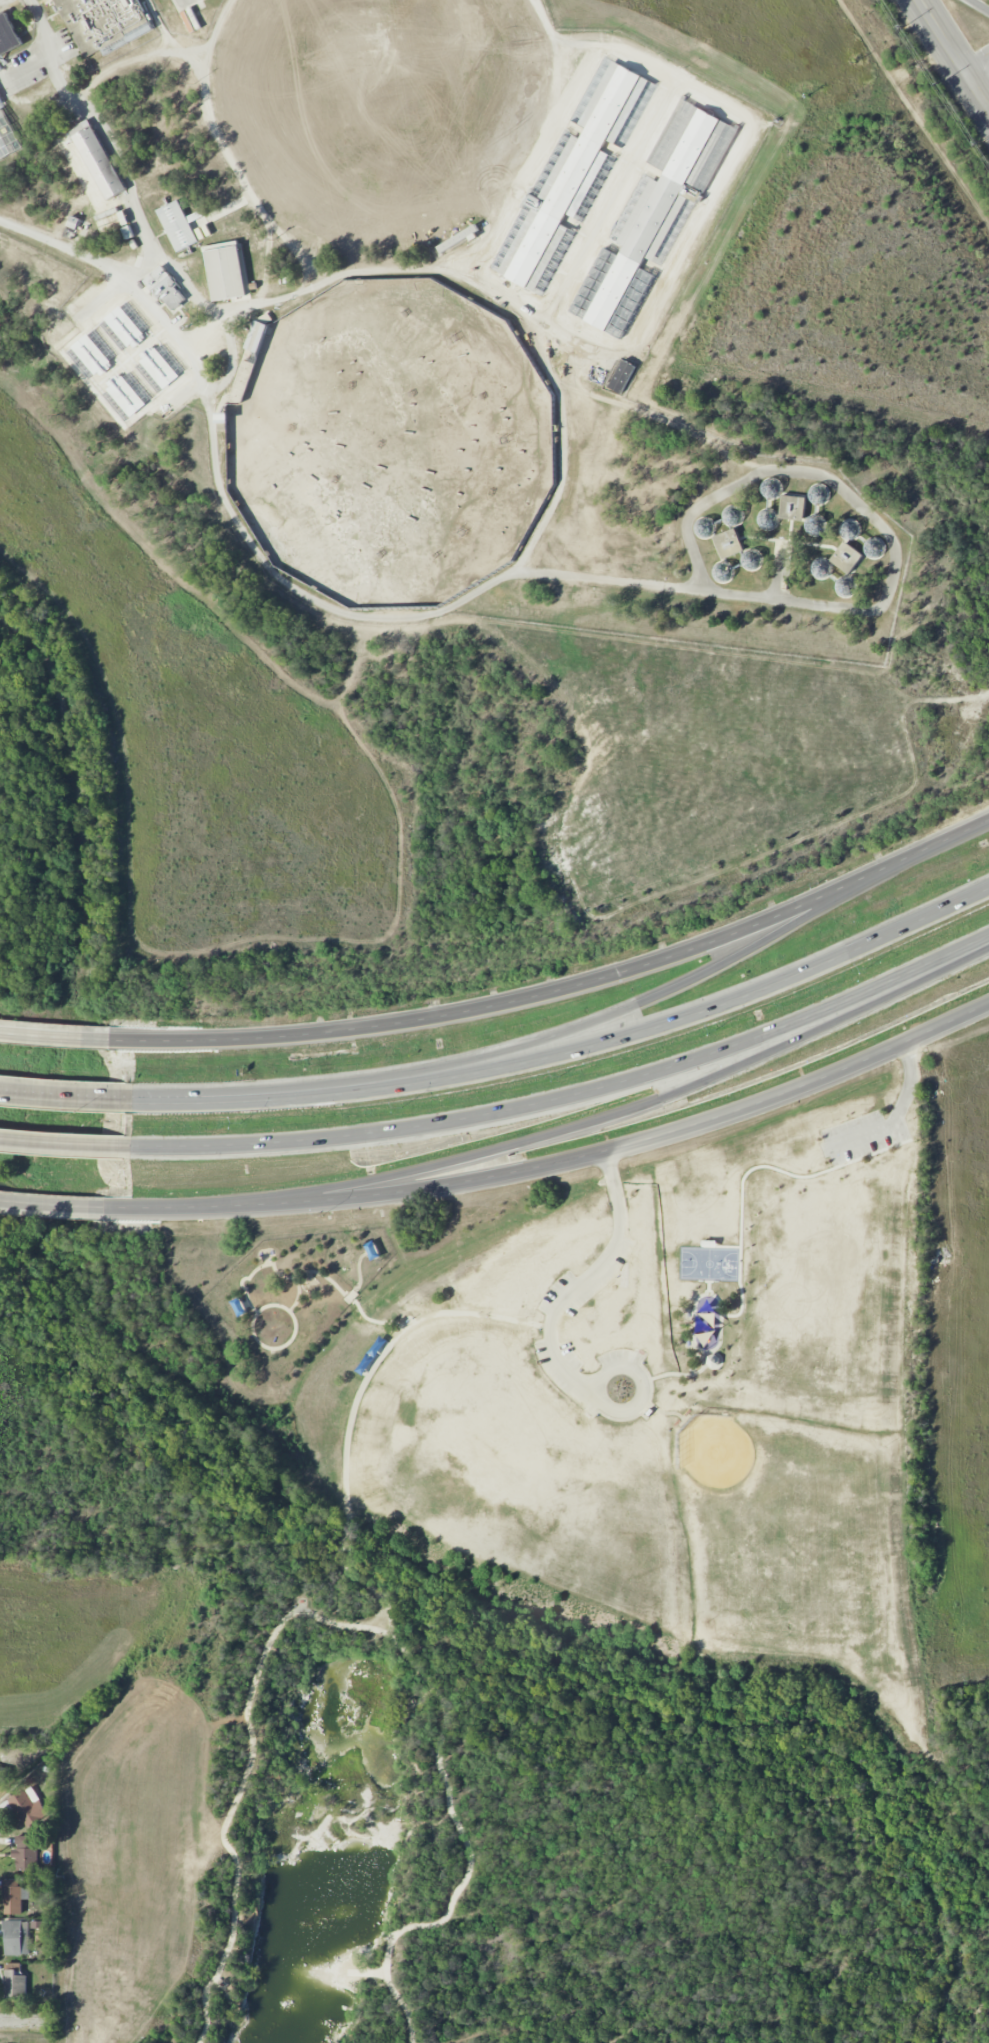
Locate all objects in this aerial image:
parking lot: (5, 2)
road: (182, 3)
road: (980, 5)
building: (105, 23)
building: (8, 36)
road: (54, 50)
road: (954, 55)
road: (135, 60)
road: (976, 62)
road: (59, 80)
building: (0, 97)
building: (9, 133)
road: (541, 147)
road: (740, 151)
road: (227, 154)
building: (99, 157)
road: (126, 174)
building: (571, 174)
road: (611, 199)
building: (652, 220)
building: (114, 221)
building: (179, 224)
building: (76, 226)
building: (458, 239)
road: (415, 268)
building: (227, 270)
road: (177, 275)
building: (205, 280)
building: (170, 294)
road: (100, 298)
building: (126, 326)
building: (256, 336)
road: (230, 340)
building: (92, 354)
building: (159, 366)
building: (623, 375)
road: (190, 387)
building: (126, 394)
road: (659, 418)
road: (561, 450)
building: (792, 505)
road: (865, 511)
building: (729, 542)
road: (543, 557)
building: (847, 557)
road: (266, 565)
road: (779, 571)
road: (563, 992)
road: (666, 993)
road: (718, 1005)
road: (53, 1036)
road: (63, 1094)
road: (280, 1094)
road: (573, 1097)
road: (642, 1109)
road: (895, 1119)
parking lot: (866, 1134)
road: (65, 1143)
road: (571, 1158)
road: (65, 1207)
building: (372, 1250)
road: (740, 1251)
park: (709, 1264)
road: (307, 1271)
road: (358, 1273)
road: (584, 1279)
road: (708, 1286)
road: (297, 1294)
road: (694, 1306)
building: (240, 1307)
road: (260, 1309)
parking lot: (550, 1324)
building: (707, 1327)
building: (377, 1346)
building: (365, 1364)
road: (644, 1385)
road: (352, 1411)
park: (776, 1522)
park: (512, 1613)
road: (351, 1626)
building: (3, 1775)
building: (28, 1808)
building: (27, 1852)
park: (134, 1852)
building: (14, 1896)
building: (16, 1938)
building: (15, 1981)
road: (26, 2023)

